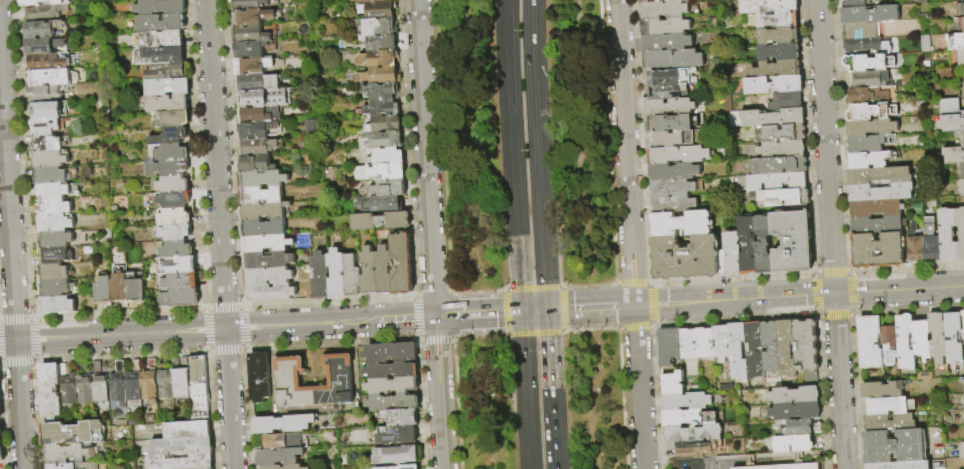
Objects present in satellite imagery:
building: (374, 1)
building: (661, 1)
building: (39, 2)
building: (856, 3)
building: (248, 4)
building: (769, 6)
building: (159, 7)
building: (960, 9)
building: (378, 10)
building: (666, 10)
building: (45, 12)
building: (870, 14)
building: (251, 17)
building: (778, 20)
building: (160, 22)
building: (959, 23)
building: (377, 26)
building: (666, 27)
building: (46, 29)
building: (861, 31)
building: (249, 35)
building: (780, 36)
building: (158, 38)
building: (379, 42)
building: (956, 42)
building: (667, 43)
building: (43, 44)
building: (865, 47)
building: (249, 49)
building: (780, 52)
building: (164, 54)
building: (961, 58)
building: (378, 59)
building: (674, 59)
building: (47, 61)
building: (868, 63)
road: (507, 64)
building: (252, 66)
building: (778, 69)
building: (166, 71)
building: (378, 76)
building: (51, 77)
building: (673, 77)
building: (867, 79)
building: (257, 82)
building: (775, 85)
building: (167, 86)
building: (669, 91)
building: (48, 93)
building: (963, 93)
building: (867, 96)
building: (261, 98)
building: (380, 99)
building: (787, 101)
building: (164, 103)
building: (670, 107)
building: (950, 107)
building: (48, 110)
building: (871, 111)
building: (256, 116)
building: (774, 118)
building: (171, 119)
road: (536, 121)
building: (381, 123)
building: (953, 123)
building: (670, 124)
building: (46, 126)
building: (309, 126)
building: (871, 127)
building: (254, 130)
building: (782, 134)
building: (169, 136)
building: (960, 136)
building: (670, 139)
building: (381, 140)
road: (580, 142)
road: (606, 142)
building: (46, 143)
building: (866, 143)
road: (440, 145)
building: (257, 147)
building: (783, 149)
building: (171, 152)
building: (683, 155)
building: (386, 156)
building: (954, 156)
building: (48, 158)
building: (869, 159)
building: (255, 164)
building: (778, 165)
building: (167, 168)
building: (962, 170)
building: (380, 172)
building: (675, 172)
building: (50, 175)
building: (879, 175)
building: (261, 179)
building: (777, 182)
building: (173, 184)
building: (389, 188)
building: (675, 188)
building: (962, 188)
building: (880, 192)
building: (259, 195)
building: (52, 198)
building: (784, 198)
building: (168, 199)
building: (380, 203)
building: (674, 204)
building: (877, 208)
building: (263, 211)
building: (176, 215)
road: (516, 220)
building: (53, 221)
building: (380, 221)
building: (683, 224)
building: (877, 225)
building: (263, 228)
building: (174, 232)
building: (960, 232)
road: (220, 234)
road: (430, 234)
park: (530, 234)
road: (629, 234)
road: (830, 234)
building: (947, 235)
building: (54, 239)
building: (931, 241)
building: (793, 242)
building: (265, 243)
building: (749, 245)
building: (765, 245)
building: (915, 245)
building: (176, 249)
building: (878, 250)
building: (733, 254)
building: (53, 255)
building: (688, 258)
building: (267, 260)
road: (11, 264)
building: (179, 264)
building: (402, 264)
building: (383, 271)
building: (53, 272)
building: (368, 272)
building: (335, 275)
building: (266, 276)
building: (319, 276)
building: (350, 276)
road: (546, 276)
building: (180, 281)
road: (632, 283)
road: (604, 284)
road: (577, 285)
building: (119, 286)
building: (54, 287)
building: (134, 287)
road: (540, 287)
road: (474, 290)
building: (102, 291)
road: (431, 292)
building: (270, 293)
traffic signals: (834, 294)
road: (799, 296)
building: (181, 297)
road: (504, 302)
road: (652, 303)
building: (57, 304)
road: (591, 307)
road: (561, 308)
traffic signals: (548, 310)
road: (535, 311)
traffic signals: (522, 312)
building: (963, 313)
road: (412, 317)
road: (261, 326)
road: (634, 328)
road: (590, 329)
road: (542, 332)
road: (514, 333)
building: (963, 335)
road: (477, 336)
building: (937, 337)
building: (953, 337)
building: (922, 339)
road: (435, 340)
building: (870, 342)
building: (905, 342)
building: (705, 343)
building: (721, 343)
building: (689, 344)
building: (889, 344)
building: (805, 345)
building: (669, 347)
building: (770, 347)
building: (786, 348)
building: (753, 350)
building: (391, 352)
building: (737, 352)
road: (524, 363)
building: (391, 370)
building: (259, 376)
building: (340, 380)
building: (150, 382)
building: (181, 383)
building: (100, 384)
building: (134, 384)
building: (165, 384)
building: (672, 384)
building: (117, 385)
building: (392, 385)
building: (725, 388)
building: (85, 389)
building: (198, 389)
road: (552, 389)
building: (882, 389)
building: (51, 390)
building: (69, 390)
building: (794, 396)
road: (593, 399)
building: (686, 401)
building: (393, 402)
building: (889, 405)
building: (794, 411)
building: (963, 412)
building: (401, 417)
building: (687, 418)
building: (890, 422)
building: (282, 423)
building: (799, 427)
building: (187, 430)
building: (72, 433)
building: (693, 434)
building: (397, 435)
building: (1, 436)
building: (282, 441)
road: (528, 441)
building: (792, 444)
building: (181, 446)
building: (894, 446)
building: (698, 448)
building: (962, 451)
building: (70, 454)
building: (395, 454)
building: (1, 455)
building: (279, 456)
building: (180, 462)
building: (900, 465)
building: (61, 466)
building: (784, 466)
building: (283, 467)
building: (406, 467)

